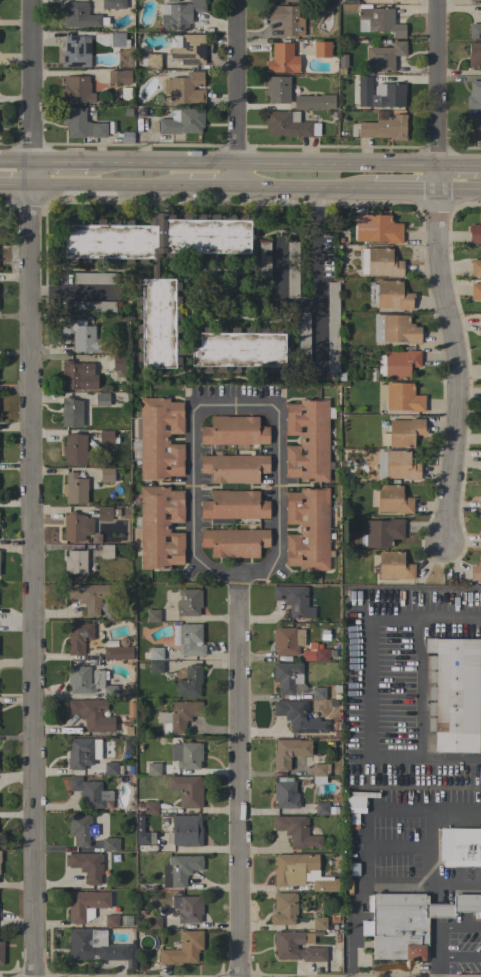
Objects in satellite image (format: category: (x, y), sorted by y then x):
building: (283, 0)
building: (480, 0)
building: (347, 1)
building: (113, 4)
building: (179, 14)
building: (78, 15)
building: (286, 18)
building: (378, 21)
building: (475, 31)
building: (116, 39)
building: (321, 49)
building: (189, 50)
building: (75, 51)
building: (474, 55)
building: (383, 57)
building: (282, 59)
building: (150, 60)
building: (342, 62)
building: (118, 77)
road: (33, 80)
road: (237, 80)
road: (437, 81)
building: (76, 89)
building: (185, 89)
building: (277, 89)
building: (379, 94)
building: (474, 95)
building: (313, 101)
building: (181, 121)
building: (82, 124)
building: (288, 124)
building: (385, 128)
building: (473, 128)
road: (17, 160)
road: (60, 160)
road: (162, 160)
road: (338, 161)
road: (457, 163)
road: (478, 163)
road: (34, 172)
road: (238, 173)
road: (436, 176)
road: (17, 184)
road: (110, 184)
road: (212, 185)
road: (302, 186)
road: (400, 188)
road: (457, 189)
building: (381, 229)
building: (474, 232)
building: (264, 255)
building: (379, 262)
building: (475, 267)
building: (292, 268)
building: (94, 278)
road: (316, 285)
building: (475, 291)
road: (74, 292)
building: (390, 295)
building: (94, 306)
building: (157, 309)
building: (332, 325)
building: (480, 325)
building: (394, 330)
building: (303, 332)
building: (79, 334)
building: (119, 363)
building: (398, 364)
road: (459, 364)
building: (78, 376)
building: (341, 376)
building: (403, 398)
building: (101, 399)
building: (71, 412)
road: (190, 418)
building: (234, 431)
building: (402, 433)
building: (107, 437)
building: (159, 439)
building: (307, 440)
building: (74, 449)
building: (397, 465)
building: (234, 467)
building: (106, 474)
building: (74, 488)
building: (391, 499)
building: (233, 505)
building: (480, 506)
building: (104, 513)
building: (76, 527)
building: (160, 527)
building: (308, 529)
building: (381, 533)
building: (480, 540)
building: (234, 542)
building: (105, 549)
building: (75, 562)
building: (394, 566)
building: (475, 572)
road: (35, 580)
building: (91, 598)
building: (292, 598)
building: (188, 602)
building: (152, 615)
building: (78, 637)
building: (190, 640)
building: (285, 641)
building: (117, 653)
building: (154, 653)
building: (314, 655)
building: (155, 667)
building: (287, 676)
building: (78, 681)
building: (189, 682)
road: (366, 685)
road: (418, 687)
building: (321, 693)
building: (454, 694)
building: (130, 710)
building: (91, 714)
building: (177, 716)
building: (298, 717)
building: (289, 752)
building: (80, 753)
building: (189, 756)
building: (110, 768)
building: (153, 769)
building: (320, 769)
road: (238, 774)
building: (187, 790)
building: (89, 792)
building: (285, 793)
building: (357, 801)
building: (150, 807)
road: (404, 807)
building: (325, 809)
building: (81, 829)
building: (186, 830)
building: (297, 831)
building: (141, 833)
building: (110, 844)
building: (459, 844)
road: (364, 862)
building: (87, 865)
building: (294, 869)
building: (179, 870)
building: (325, 885)
building: (86, 905)
building: (187, 908)
building: (284, 909)
building: (111, 921)
building: (153, 922)
building: (408, 922)
building: (318, 923)
road: (443, 925)
building: (95, 946)
building: (312, 948)
building: (183, 949)
building: (1, 952)
road: (458, 956)
road: (435, 966)

